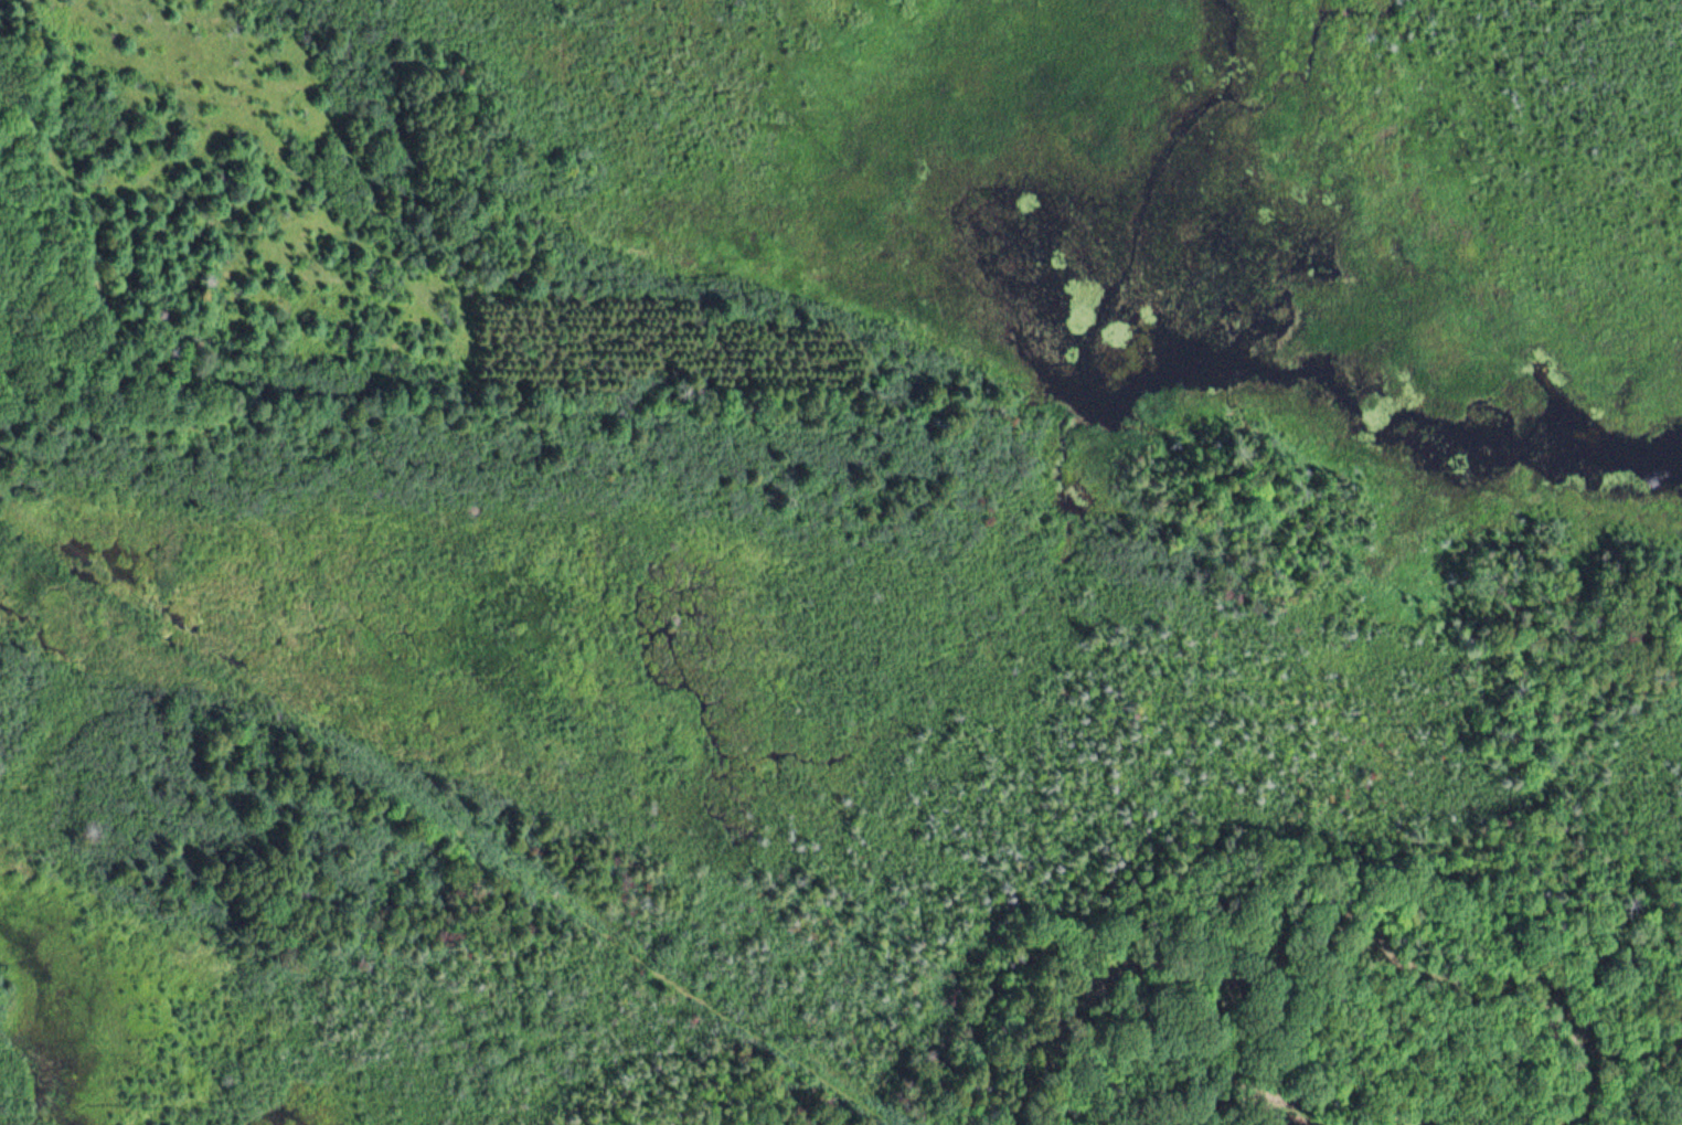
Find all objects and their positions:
road: (556, 896)

